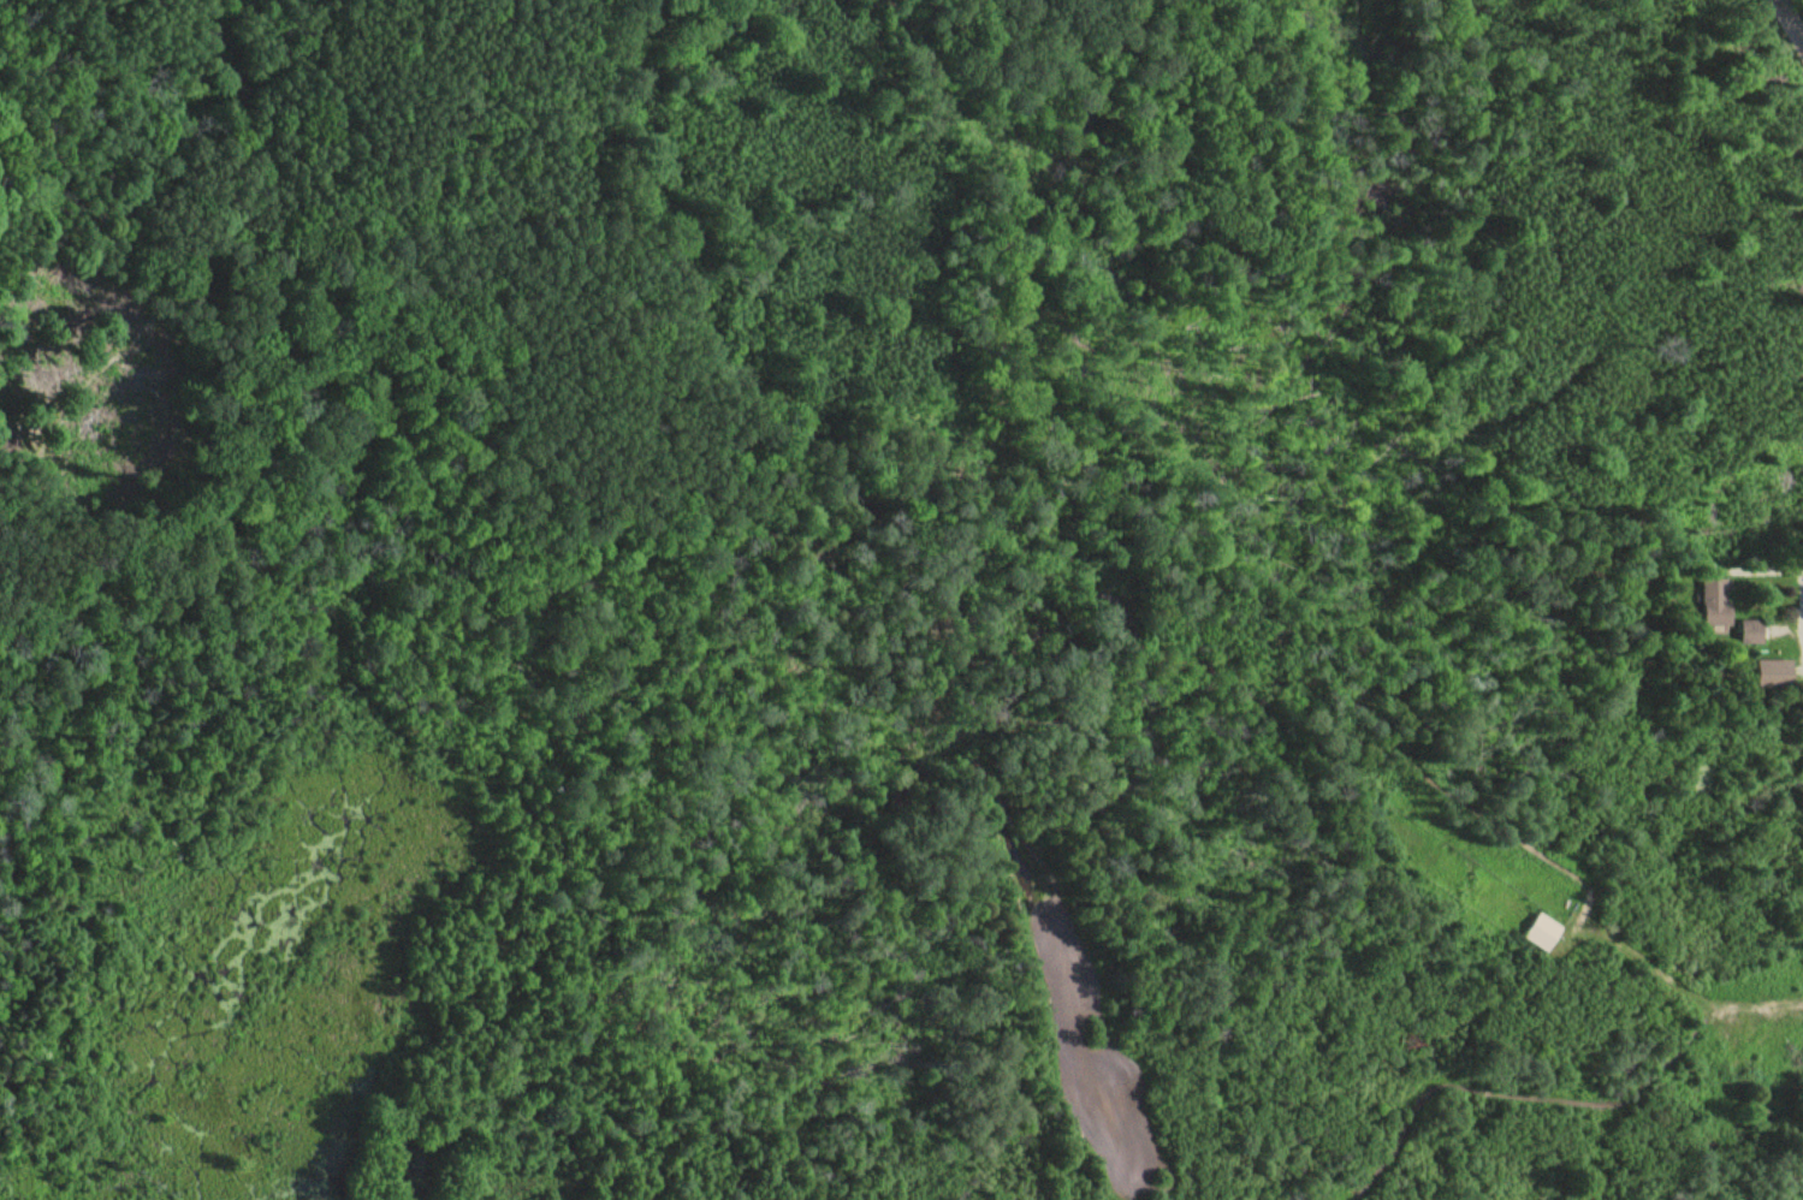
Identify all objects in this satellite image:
road: (1797, 6)
building: (1718, 602)
building: (1752, 630)
building: (1775, 673)
building: (1543, 931)

